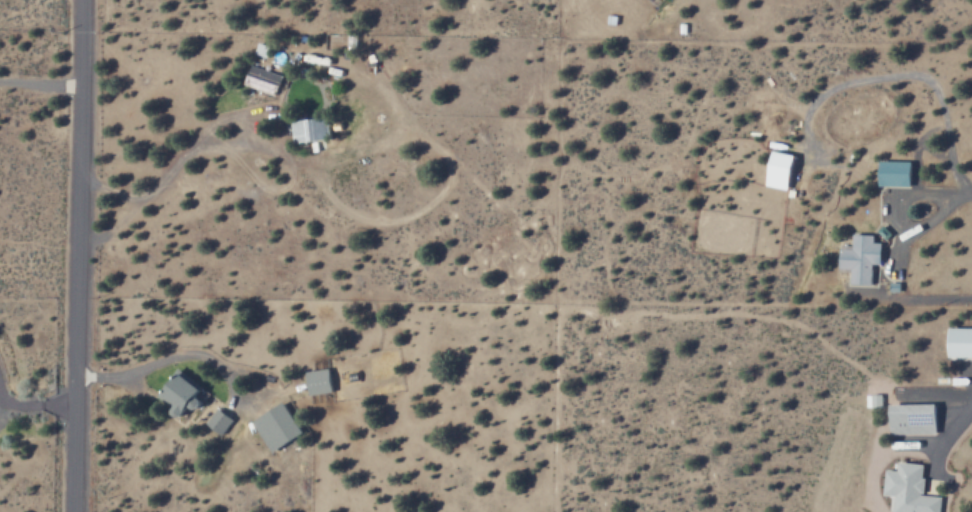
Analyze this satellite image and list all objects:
building: (372, 63)
building: (262, 79)
building: (312, 129)
building: (782, 170)
building: (899, 173)
road: (78, 255)
building: (861, 257)
building: (961, 342)
building: (319, 381)
building: (183, 393)
building: (874, 401)
building: (914, 419)
building: (219, 420)
building: (278, 427)
building: (910, 489)

